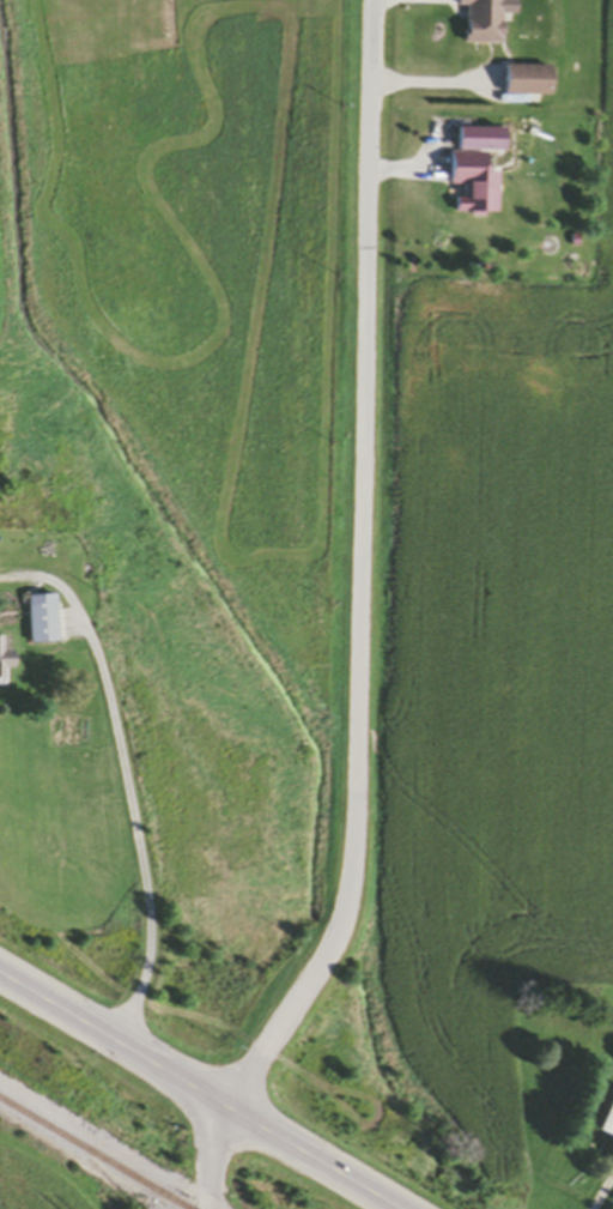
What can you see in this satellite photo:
building: (490, 20)
building: (530, 83)
building: (480, 171)
building: (11, 536)
building: (44, 622)
road: (362, 622)
building: (6, 664)
road: (125, 782)
road: (198, 1090)
building: (609, 1126)
railway: (92, 1154)
road: (603, 1193)

